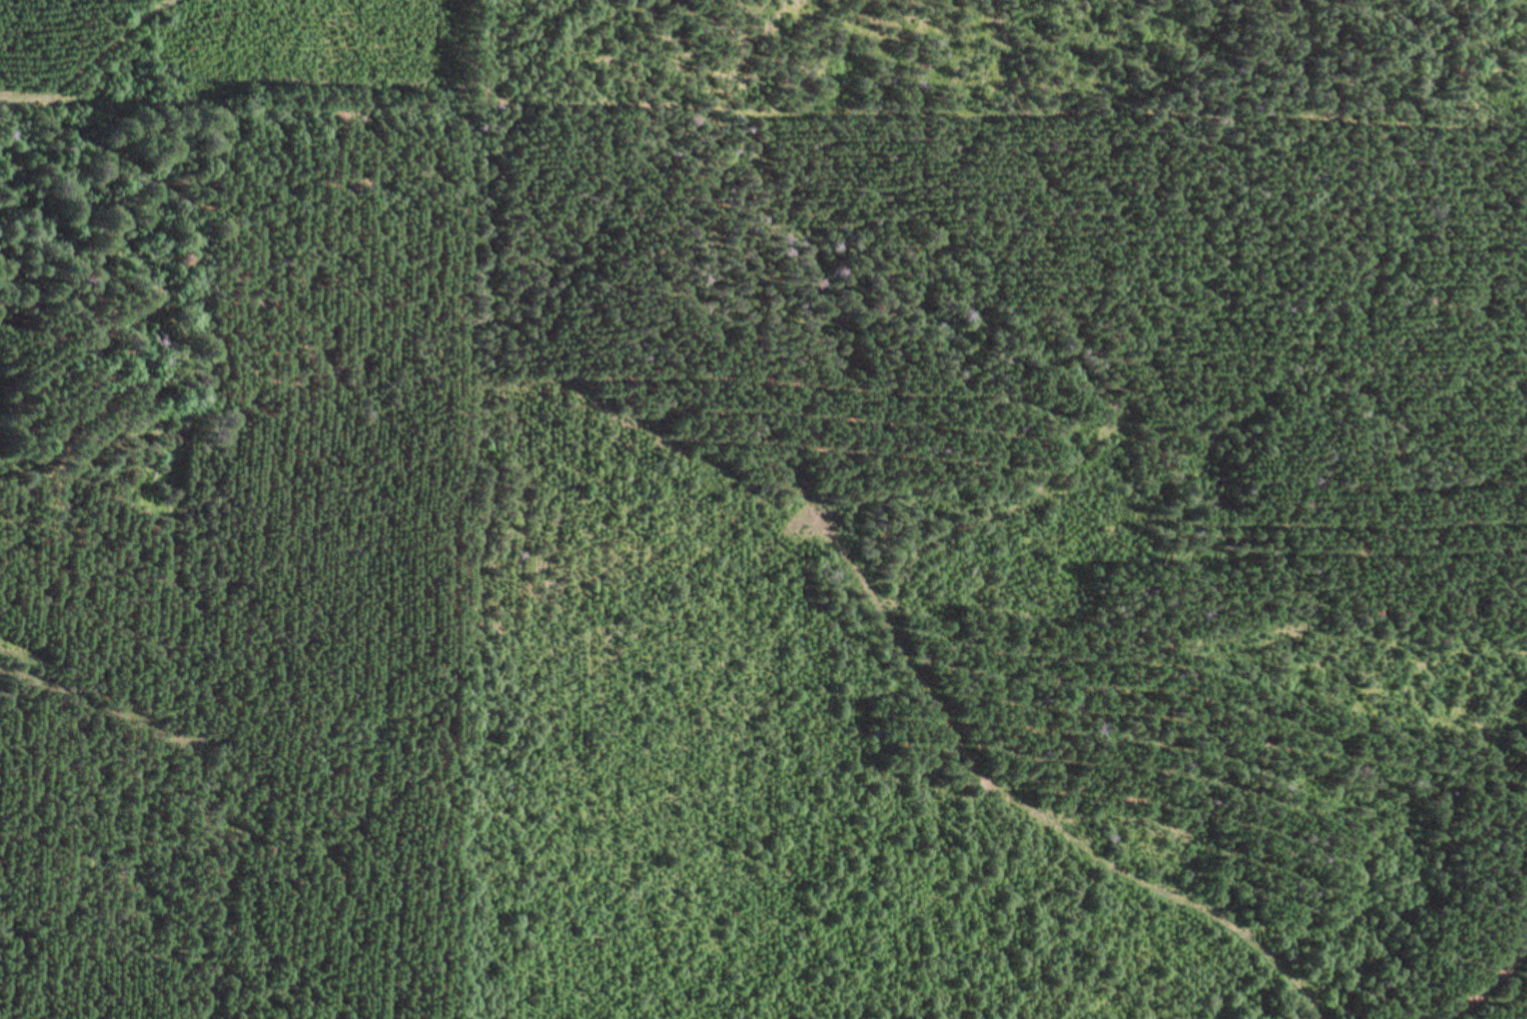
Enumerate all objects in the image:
road: (7, 92)

